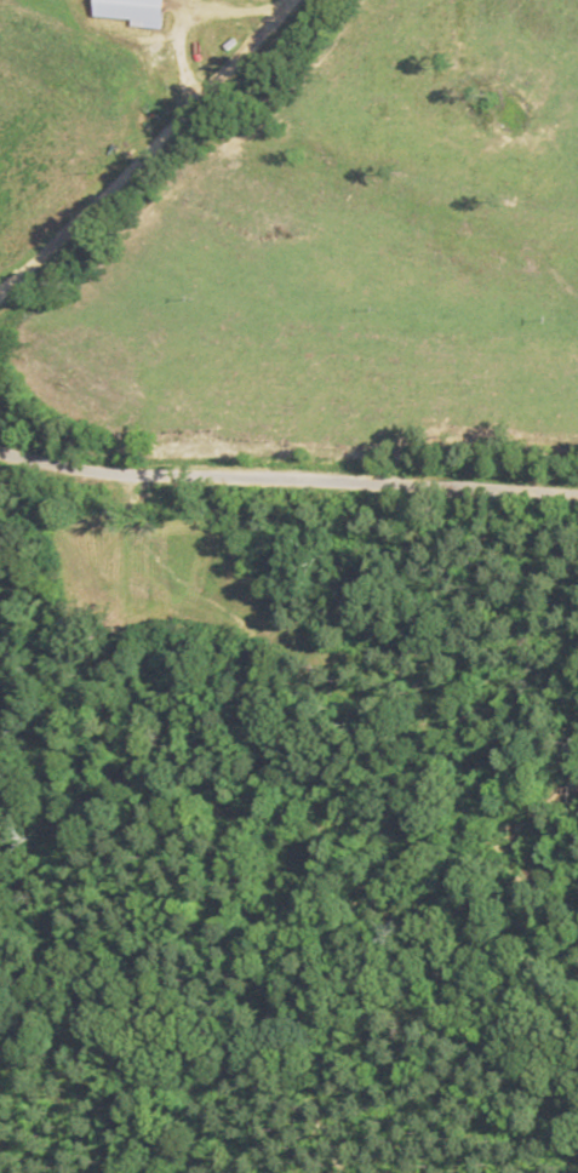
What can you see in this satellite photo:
building: (132, 11)
road: (288, 477)

